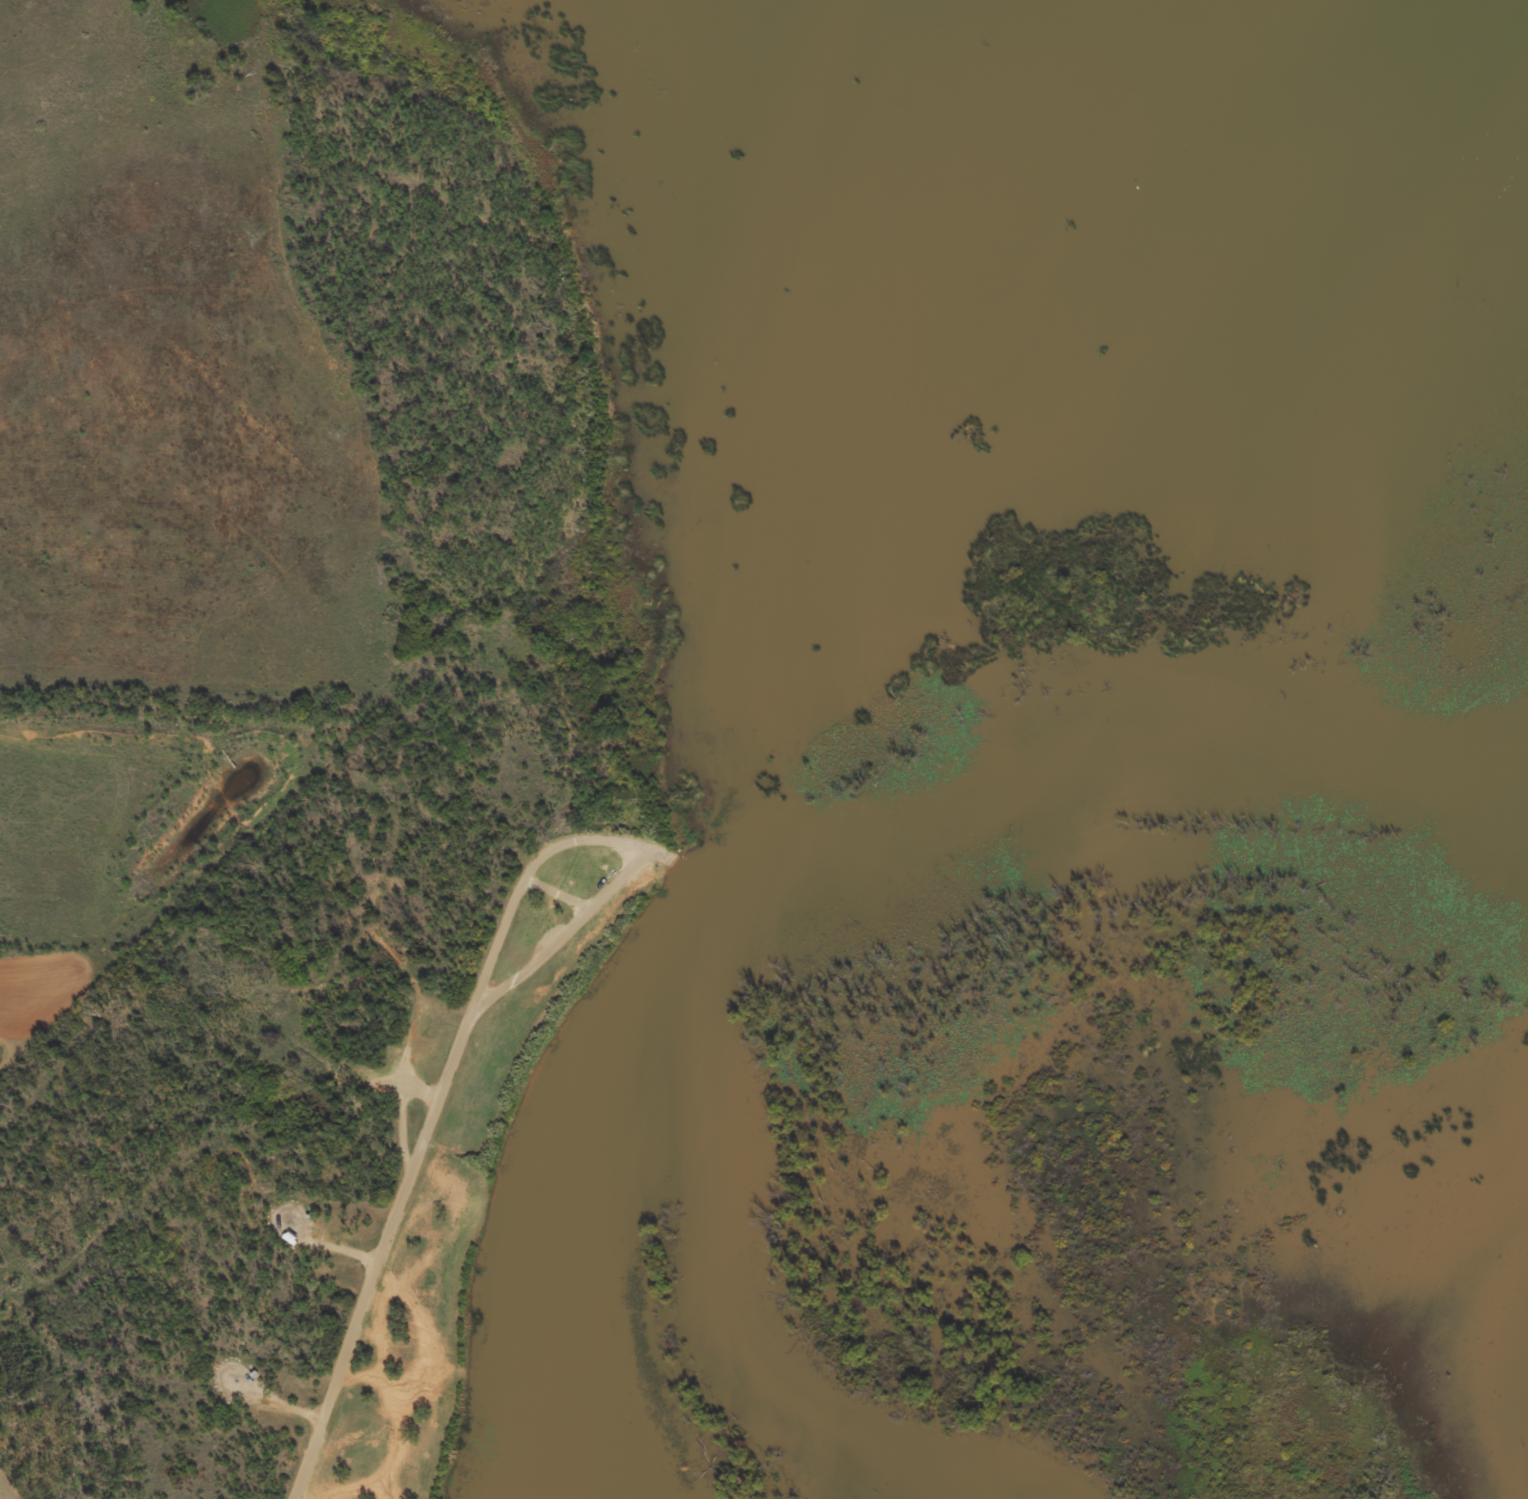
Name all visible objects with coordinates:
road: (620, 841)
road: (652, 853)
road: (558, 891)
park: (443, 1167)
road: (332, 1245)
road: (381, 1254)
road: (279, 1399)
park: (17, 1481)

